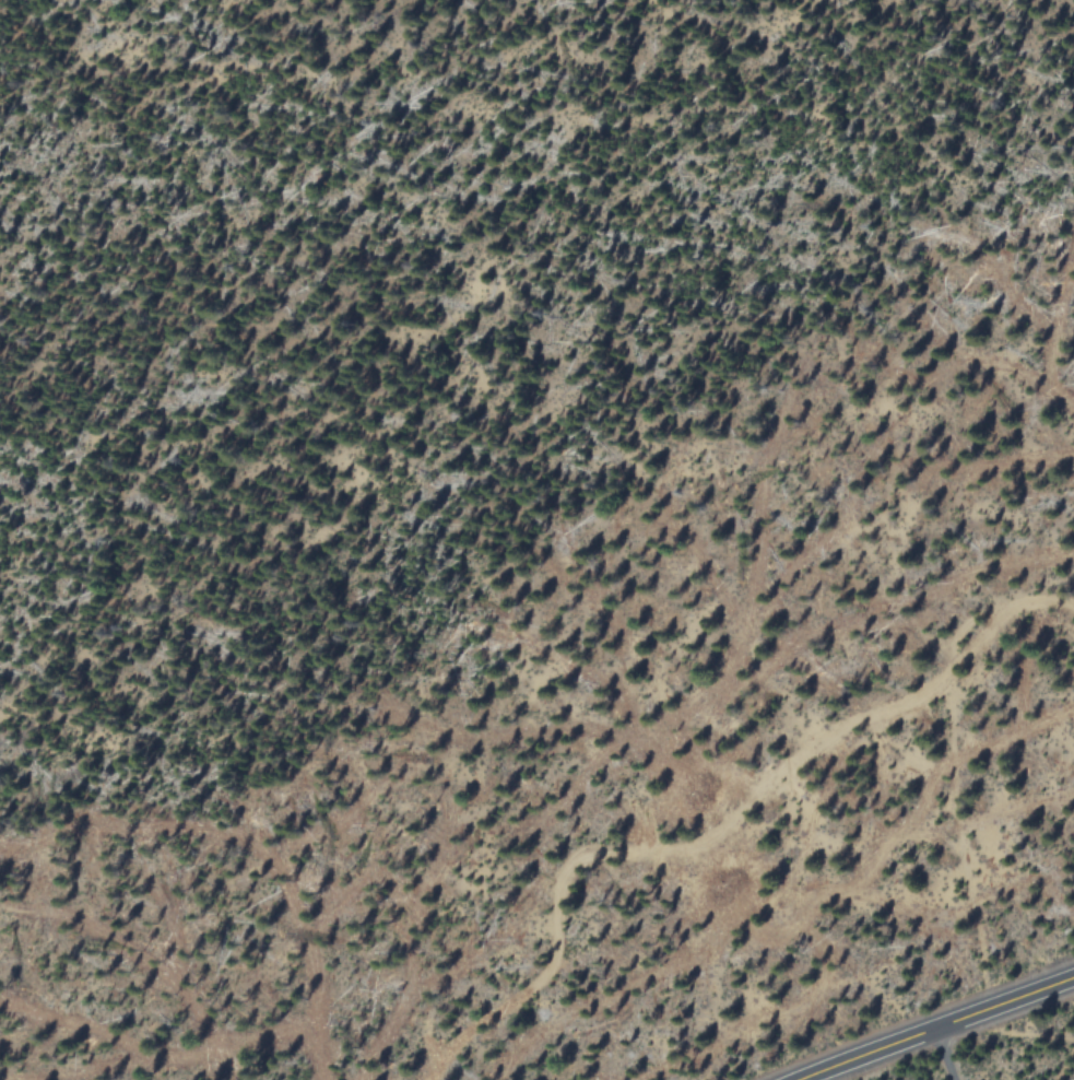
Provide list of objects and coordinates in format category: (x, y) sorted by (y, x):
road: (778, 786)
road: (939, 1029)
road: (945, 1055)

